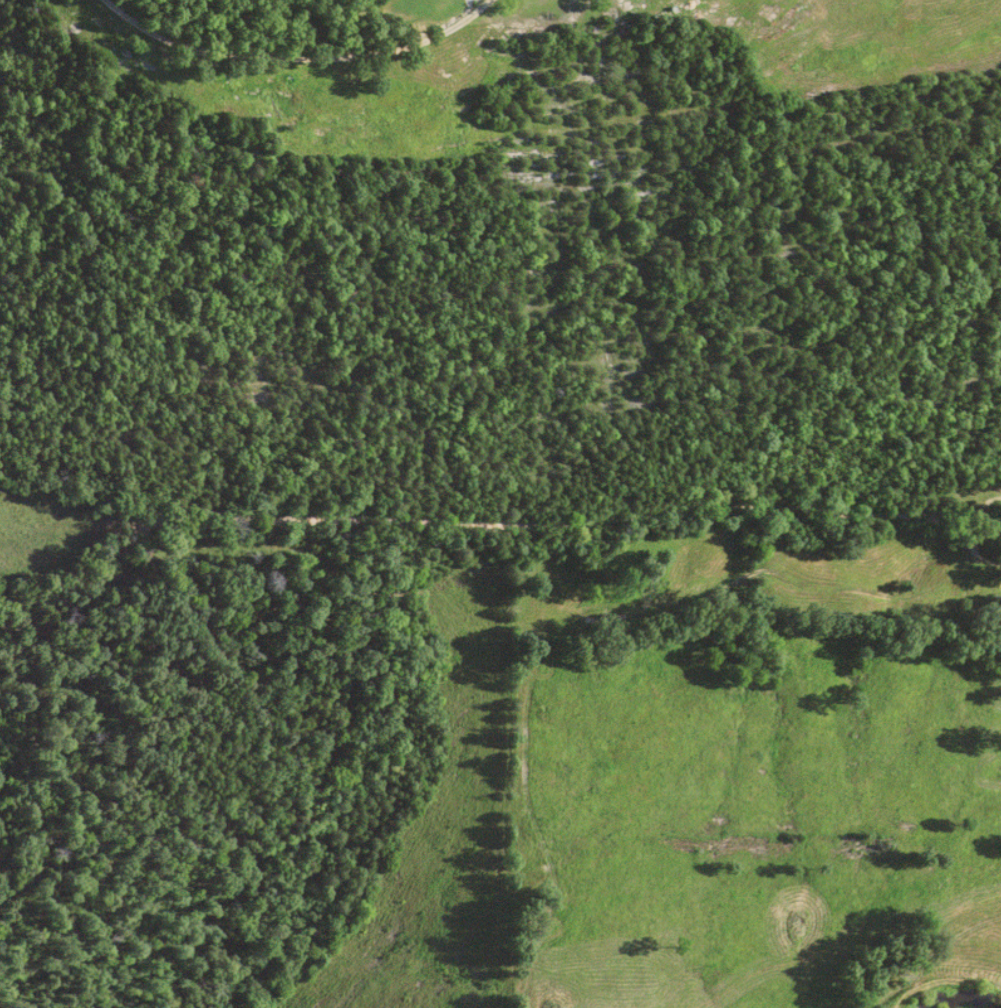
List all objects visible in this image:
road: (297, 55)

